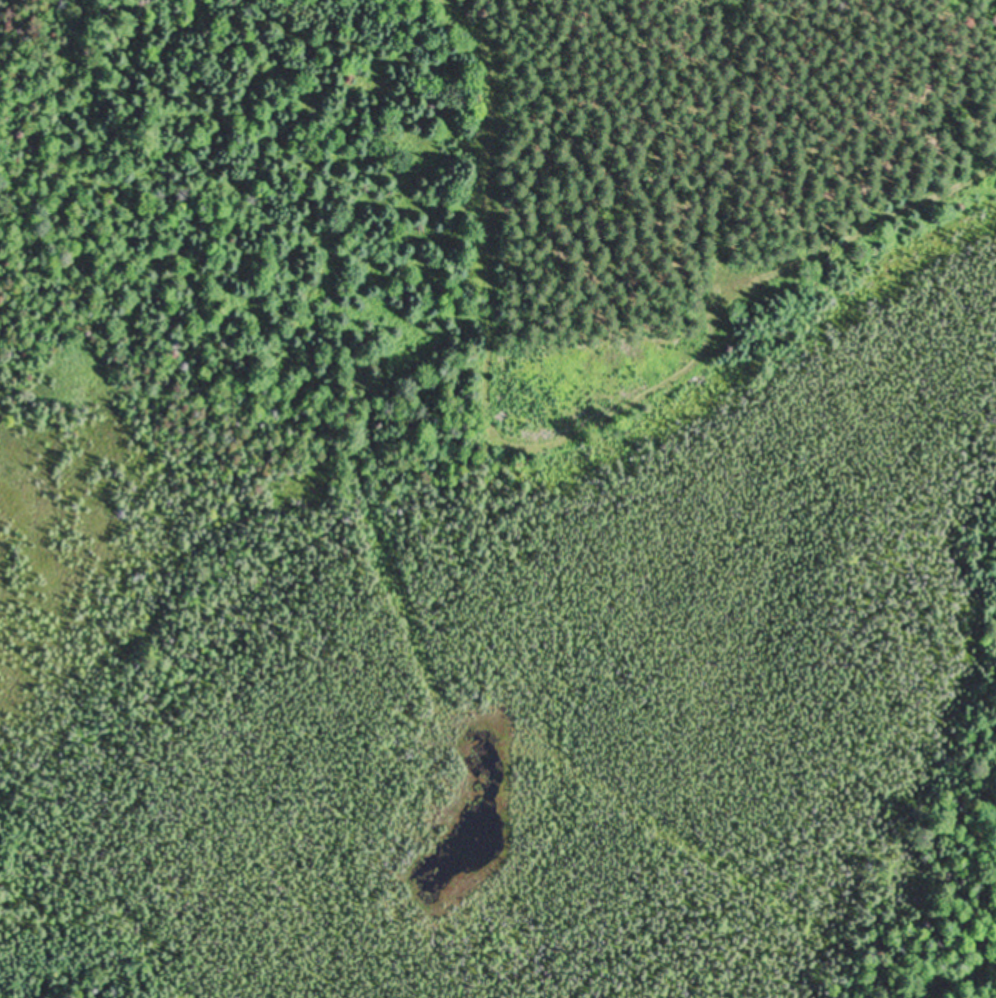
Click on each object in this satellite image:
road: (276, 247)

